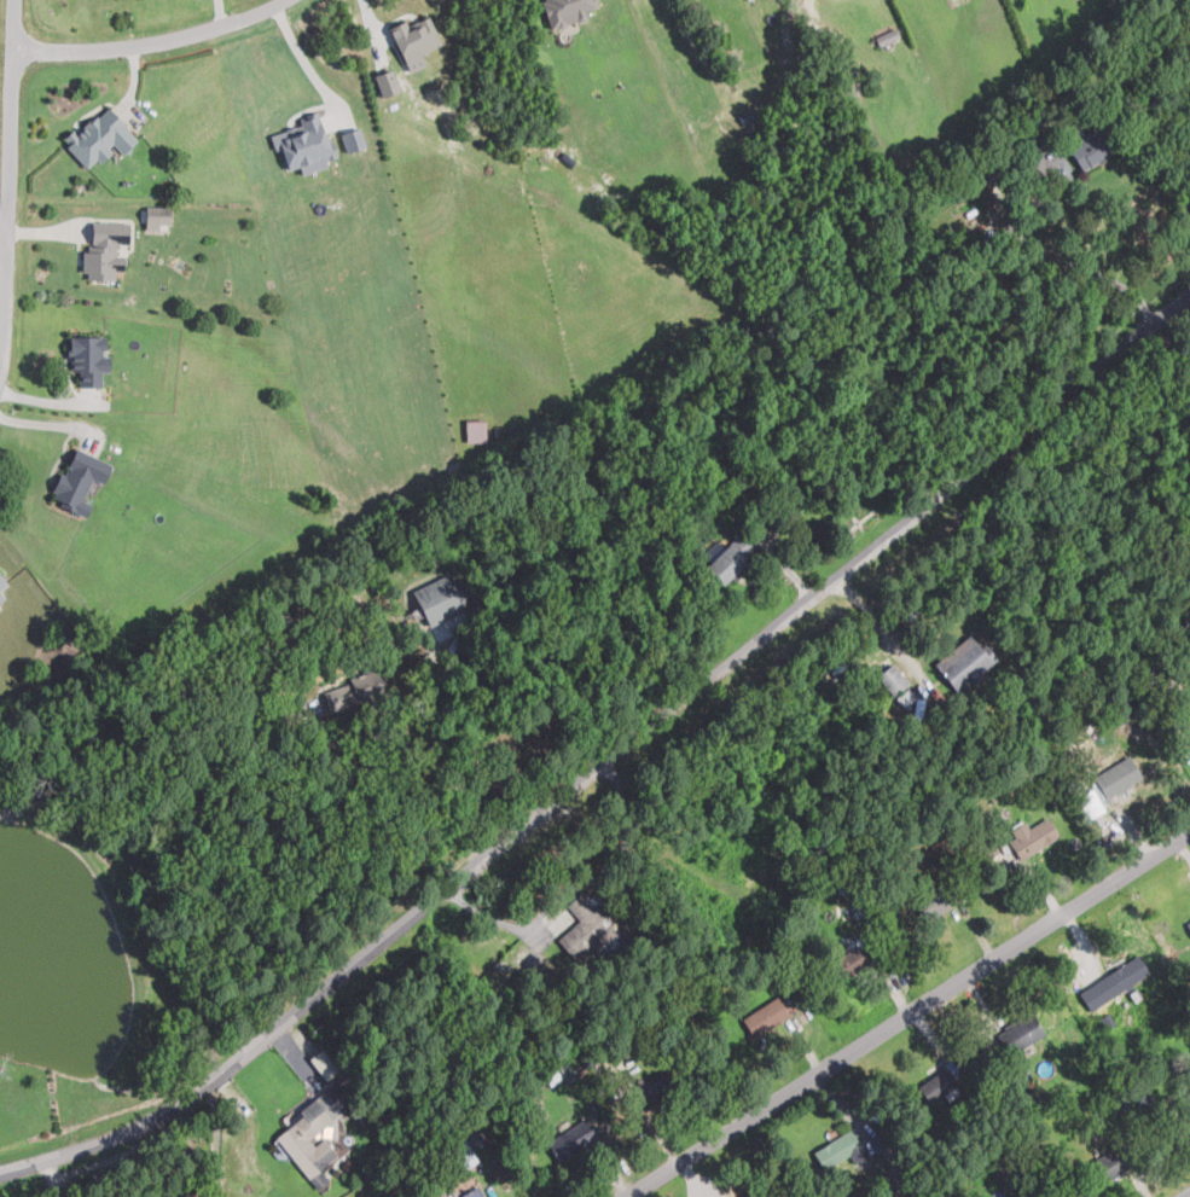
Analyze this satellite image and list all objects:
building: (567, 11)
building: (887, 35)
road: (152, 37)
building: (414, 40)
road: (304, 63)
building: (387, 82)
building: (98, 138)
building: (353, 139)
building: (304, 143)
building: (1090, 149)
road: (10, 186)
building: (157, 216)
road: (4, 220)
road: (1012, 231)
building: (101, 256)
building: (87, 360)
building: (79, 483)
building: (727, 557)
building: (2, 581)
building: (1, 594)
road: (878, 623)
building: (963, 662)
building: (890, 676)
building: (356, 688)
building: (905, 697)
building: (1186, 719)
road: (362, 737)
road: (440, 762)
road: (609, 763)
building: (1118, 777)
building: (1092, 803)
road: (475, 807)
building: (1032, 836)
building: (941, 896)
building: (1189, 922)
building: (584, 925)
building: (848, 963)
building: (1132, 970)
building: (766, 1016)
road: (913, 1017)
building: (1022, 1030)
building: (324, 1063)
building: (953, 1064)
building: (935, 1086)
building: (650, 1087)
building: (1184, 1104)
building: (310, 1133)
building: (571, 1139)
building: (840, 1149)
building: (464, 1151)
building: (998, 1161)
building: (1109, 1163)
building: (471, 1192)
building: (742, 1193)
road: (1189, 1196)

